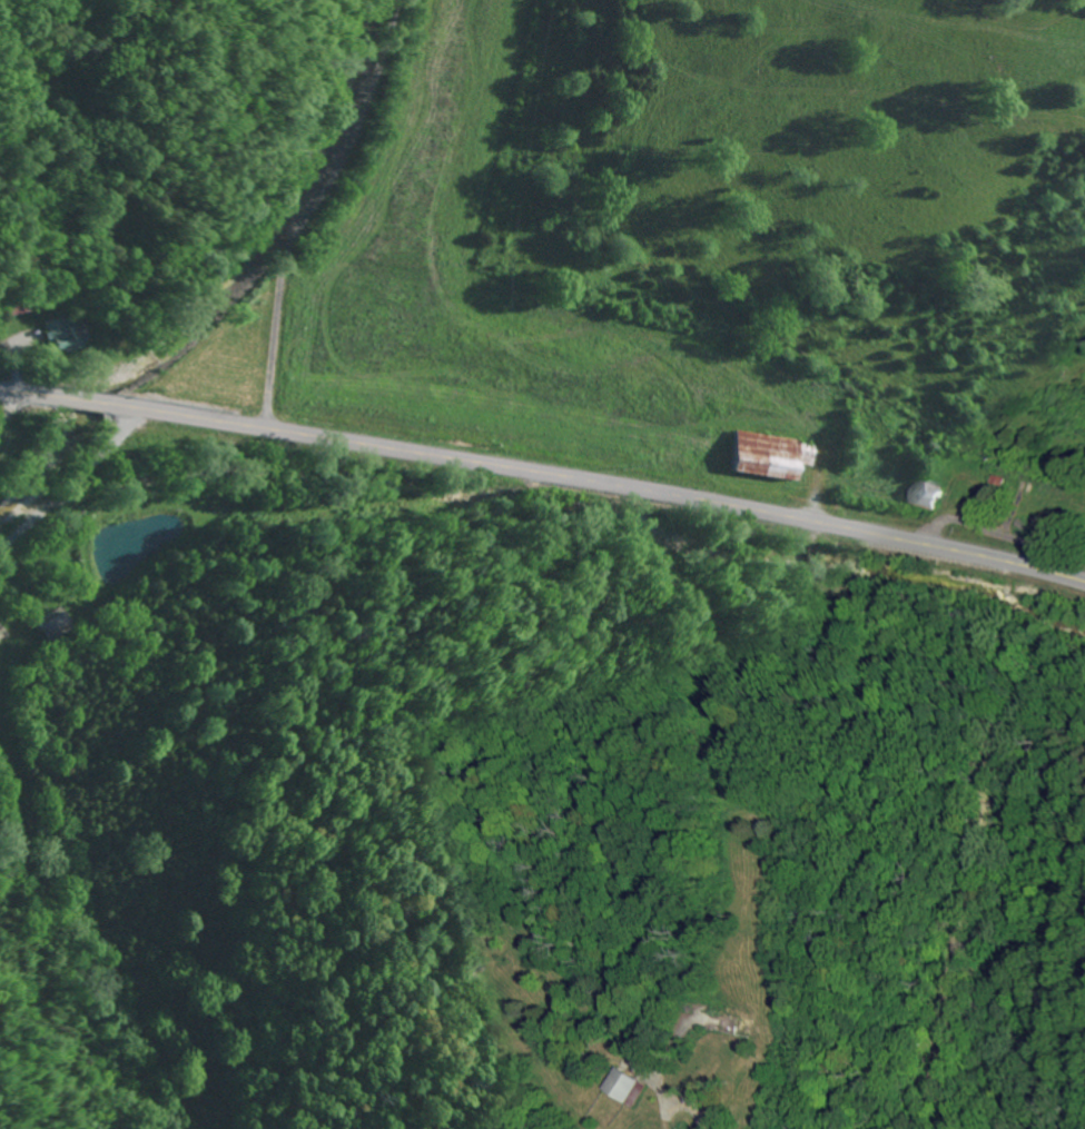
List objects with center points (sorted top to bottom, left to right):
road: (279, 271)
building: (51, 328)
road: (132, 409)
building: (753, 455)
building: (921, 495)
road: (677, 496)
building: (617, 1086)

